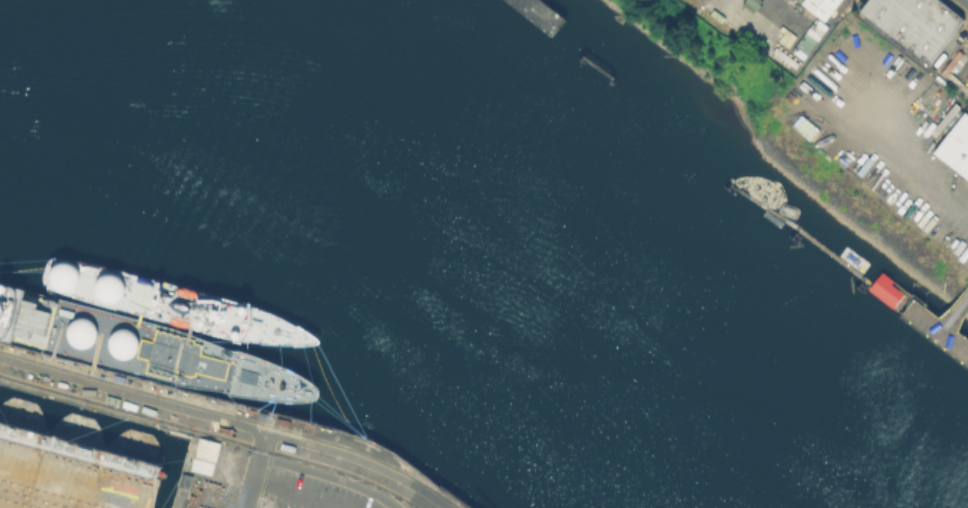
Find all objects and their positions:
road: (964, 2)
building: (819, 6)
pier: (539, 13)
parking lot: (767, 23)
building: (913, 23)
building: (807, 37)
pier: (581, 59)
road: (597, 69)
pier: (610, 80)
building: (807, 95)
building: (956, 146)
pier: (810, 238)
building: (884, 289)
pier: (924, 314)
pier: (98, 387)
railway: (232, 413)
railway: (211, 433)
building: (206, 456)
road: (305, 468)
road: (294, 495)
building: (375, 505)

